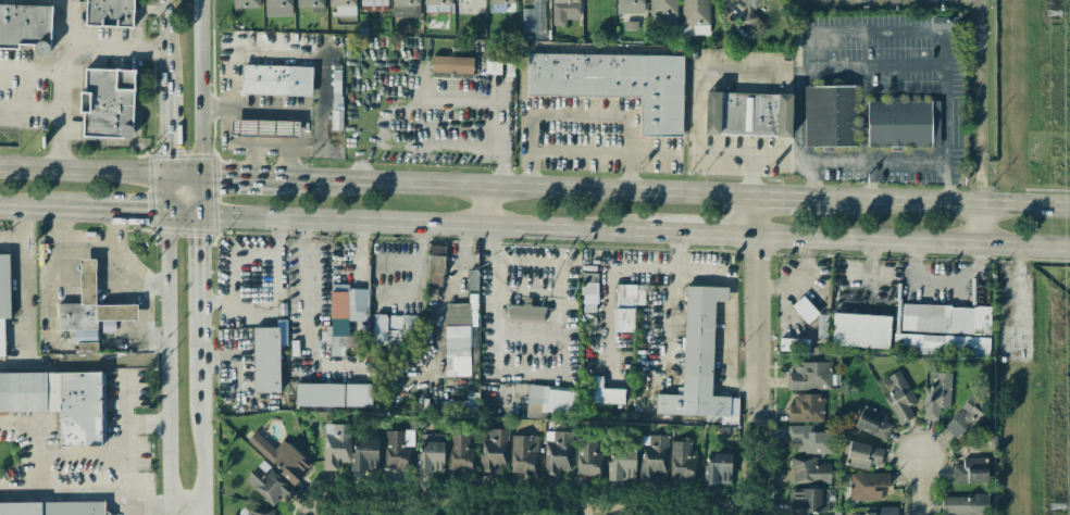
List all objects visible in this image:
building: (465, 0)
building: (501, 1)
building: (437, 2)
building: (246, 3)
building: (277, 3)
building: (310, 3)
building: (344, 7)
building: (630, 7)
building: (662, 7)
building: (406, 8)
building: (564, 11)
building: (109, 13)
road: (979, 14)
building: (695, 15)
building: (750, 15)
power tower: (1049, 15)
building: (542, 17)
building: (526, 18)
building: (25, 27)
road: (872, 33)
road: (75, 35)
road: (165, 40)
road: (122, 45)
building: (493, 53)
building: (451, 64)
building: (275, 79)
building: (617, 84)
road: (199, 88)
building: (107, 103)
road: (30, 110)
building: (337, 114)
building: (748, 114)
building: (830, 116)
road: (61, 118)
building: (898, 123)
road: (166, 128)
building: (264, 128)
road: (696, 129)
road: (428, 145)
road: (861, 162)
road: (100, 172)
traffic signals: (167, 175)
traffic signals: (200, 177)
road: (755, 177)
road: (240, 178)
road: (870, 180)
road: (518, 185)
road: (166, 196)
road: (792, 197)
road: (200, 198)
road: (948, 201)
road: (486, 205)
road: (41, 211)
road: (125, 214)
traffic signals: (166, 216)
road: (183, 216)
traffic signals: (200, 218)
road: (980, 223)
road: (438, 224)
road: (62, 229)
road: (115, 231)
road: (716, 234)
road: (911, 242)
road: (198, 259)
building: (435, 265)
road: (20, 279)
road: (152, 287)
building: (588, 292)
building: (3, 297)
road: (730, 299)
building: (627, 300)
building: (805, 310)
road: (307, 311)
building: (90, 312)
building: (524, 312)
road: (46, 318)
building: (345, 318)
building: (860, 330)
building: (458, 338)
road: (152, 339)
building: (794, 344)
building: (941, 346)
road: (755, 355)
building: (266, 359)
building: (699, 362)
road: (166, 365)
road: (546, 372)
building: (809, 376)
building: (601, 392)
building: (319, 394)
building: (358, 394)
building: (936, 394)
building: (899, 397)
building: (553, 399)
building: (60, 402)
road: (202, 406)
building: (458, 406)
building: (806, 407)
building: (963, 417)
road: (148, 423)
building: (872, 423)
building: (809, 439)
building: (335, 444)
building: (398, 450)
building: (461, 452)
building: (494, 452)
road: (55, 453)
building: (430, 453)
building: (364, 454)
building: (524, 454)
building: (558, 454)
building: (652, 455)
building: (863, 455)
building: (282, 457)
building: (588, 457)
building: (682, 461)
road: (128, 462)
building: (621, 465)
building: (718, 468)
building: (809, 470)
building: (970, 470)
building: (269, 483)
building: (867, 486)
road: (919, 487)
road: (64, 491)
road: (538, 499)
building: (809, 501)
road: (312, 503)
building: (963, 504)
road: (470, 505)
road: (185, 507)
building: (52, 508)
power tower: (1056, 510)
building: (882, 511)
building: (259, 512)

